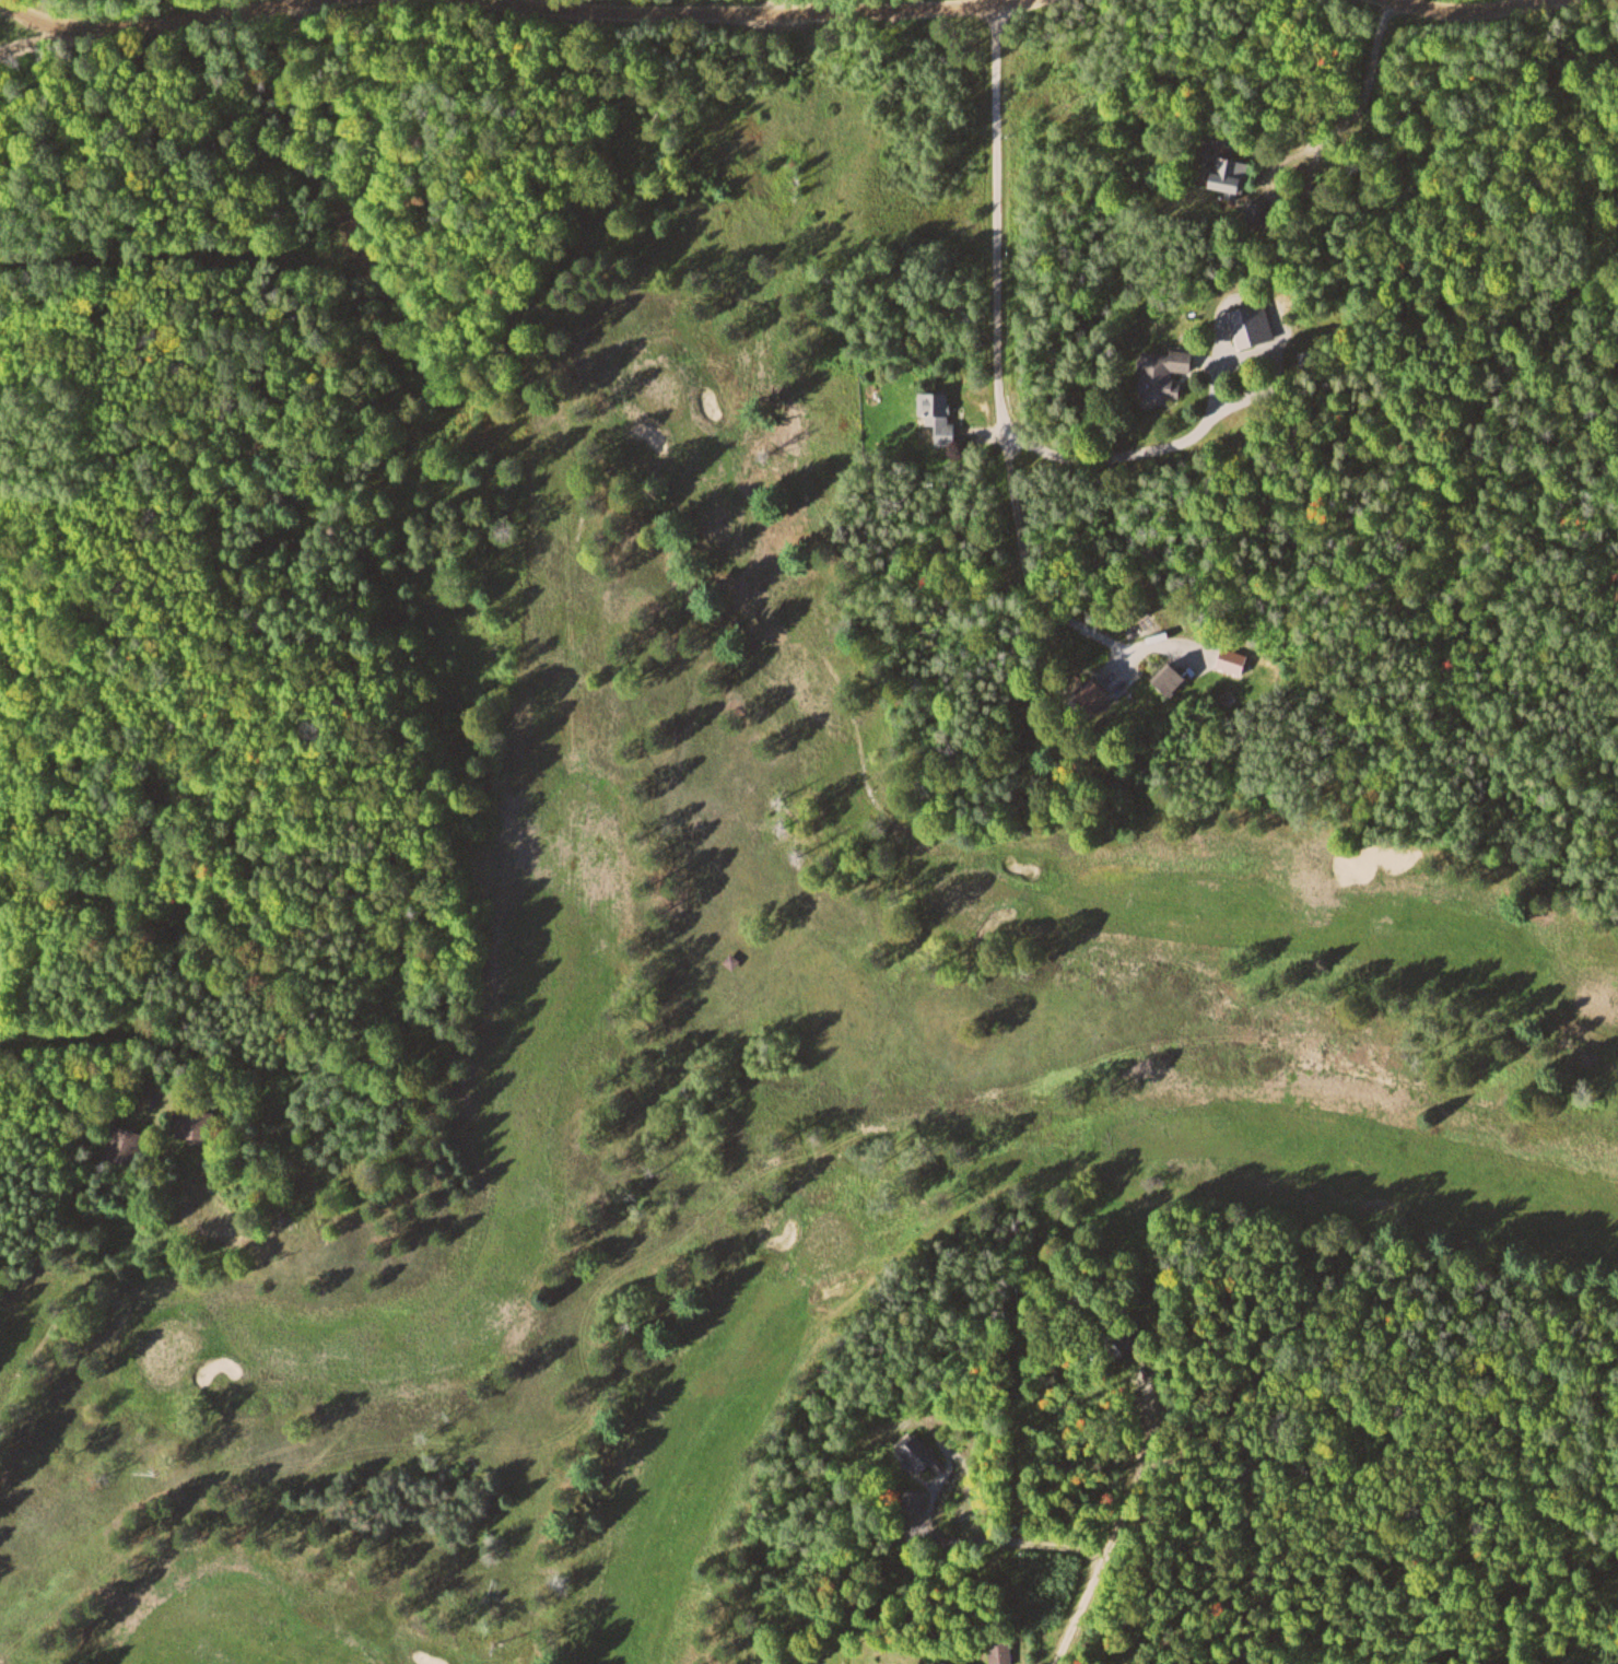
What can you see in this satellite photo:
road: (998, 4)
road: (757, 16)
road: (187, 21)
road: (1478, 22)
building: (1217, 174)
building: (1243, 324)
road: (1000, 349)
building: (1154, 374)
building: (933, 415)
building: (1162, 679)
building: (1084, 695)
park: (769, 1086)
building: (907, 1450)
building: (908, 1500)
road: (1112, 1540)
building: (938, 1662)

